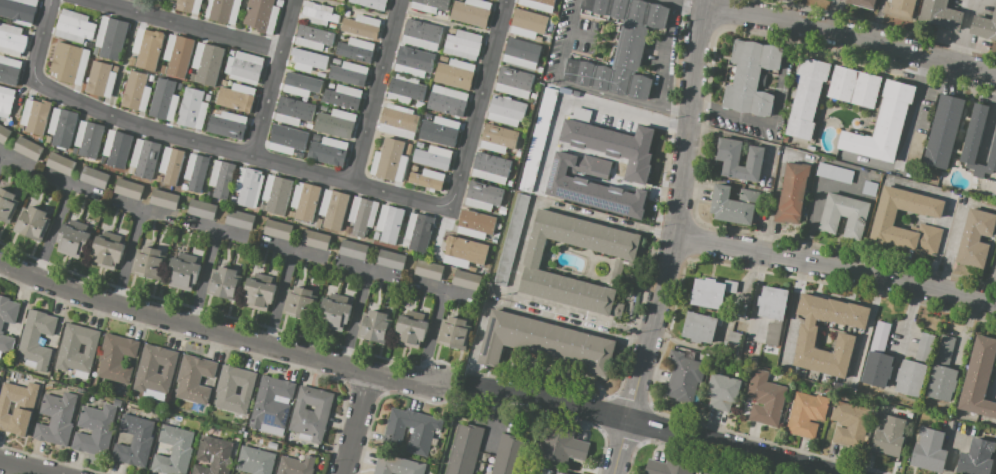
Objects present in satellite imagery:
building: (341, 0)
building: (460, 0)
road: (688, 2)
building: (864, 2)
building: (278, 3)
building: (370, 3)
building: (539, 4)
building: (430, 5)
building: (188, 7)
building: (899, 7)
building: (19, 10)
building: (223, 10)
building: (471, 12)
building: (346, 13)
building: (318, 14)
building: (940, 14)
building: (261, 15)
building: (528, 23)
road: (182, 25)
building: (331, 25)
building: (361, 26)
building: (985, 26)
building: (74, 27)
building: (452, 30)
building: (422, 33)
road: (850, 36)
building: (111, 37)
building: (313, 37)
building: (12, 40)
building: (462, 45)
building: (146, 48)
building: (621, 48)
building: (324, 49)
building: (355, 49)
building: (96, 51)
building: (231, 53)
road: (664, 53)
building: (521, 54)
building: (178, 55)
building: (309, 59)
building: (443, 59)
building: (335, 61)
building: (413, 62)
building: (69, 63)
building: (206, 64)
building: (243, 68)
building: (163, 69)
building: (9, 70)
building: (539, 70)
building: (348, 73)
building: (454, 74)
building: (751, 77)
road: (270, 78)
building: (100, 79)
building: (151, 79)
building: (514, 82)
building: (229, 83)
building: (300, 84)
building: (179, 86)
building: (330, 86)
road: (581, 87)
building: (854, 87)
building: (404, 89)
building: (136, 91)
road: (374, 91)
building: (315, 96)
building: (207, 97)
building: (236, 97)
building: (342, 97)
building: (533, 97)
building: (807, 97)
building: (164, 100)
building: (6, 101)
building: (447, 101)
road: (583, 102)
building: (419, 104)
building: (531, 107)
building: (322, 108)
building: (192, 109)
road: (913, 109)
building: (506, 110)
building: (293, 111)
road: (777, 115)
building: (33, 116)
building: (398, 121)
building: (301, 124)
building: (335, 124)
building: (883, 124)
building: (227, 125)
building: (308, 126)
building: (62, 127)
building: (440, 131)
building: (944, 132)
building: (974, 133)
building: (4, 135)
building: (316, 137)
building: (89, 138)
building: (497, 138)
building: (47, 139)
building: (285, 140)
building: (538, 140)
building: (418, 145)
building: (28, 148)
building: (116, 149)
building: (74, 150)
building: (915, 150)
building: (328, 151)
building: (407, 152)
building: (518, 154)
road: (1, 155)
building: (302, 155)
building: (435, 156)
building: (992, 156)
building: (144, 158)
building: (389, 161)
building: (729, 161)
building: (61, 163)
building: (170, 165)
building: (414, 168)
building: (491, 168)
building: (130, 170)
road: (302, 170)
building: (637, 170)
building: (196, 172)
building: (835, 173)
building: (94, 177)
building: (158, 179)
building: (221, 179)
building: (427, 179)
building: (509, 183)
building: (184, 187)
building: (247, 187)
building: (870, 188)
building: (129, 189)
building: (792, 193)
building: (276, 194)
building: (483, 196)
building: (165, 199)
building: (304, 201)
road: (771, 203)
building: (7, 205)
building: (732, 206)
building: (202, 209)
building: (333, 209)
building: (502, 210)
building: (290, 214)
building: (72, 215)
building: (361, 215)
building: (844, 215)
building: (240, 219)
building: (885, 221)
building: (33, 223)
building: (318, 223)
building: (389, 223)
building: (475, 224)
building: (497, 226)
road: (53, 229)
building: (277, 230)
building: (348, 230)
road: (654, 231)
road: (232, 232)
building: (418, 232)
building: (375, 235)
building: (975, 238)
building: (315, 240)
building: (511, 240)
road: (675, 240)
building: (72, 241)
road: (520, 249)
building: (353, 250)
building: (106, 253)
building: (469, 254)
road: (127, 256)
building: (391, 259)
building: (148, 263)
building: (531, 264)
road: (836, 268)
building: (427, 269)
building: (995, 269)
building: (183, 274)
building: (446, 275)
road: (203, 276)
building: (466, 280)
building: (224, 283)
building: (708, 293)
building: (258, 294)
road: (280, 297)
building: (300, 303)
building: (773, 303)
road: (536, 312)
building: (334, 314)
road: (908, 317)
road: (355, 318)
road: (631, 325)
building: (1, 327)
building: (375, 327)
building: (699, 328)
road: (217, 331)
building: (411, 331)
building: (772, 332)
building: (454, 333)
road: (430, 336)
building: (880, 337)
building: (806, 338)
building: (733, 339)
building: (36, 340)
building: (545, 343)
building: (924, 348)
building: (77, 350)
building: (945, 350)
building: (116, 358)
building: (878, 368)
building: (155, 372)
building: (683, 376)
building: (910, 378)
building: (979, 378)
building: (195, 379)
building: (942, 383)
road: (458, 385)
building: (235, 389)
building: (723, 391)
building: (766, 399)
road: (470, 401)
building: (117, 402)
building: (272, 405)
building: (17, 407)
building: (311, 414)
building: (806, 414)
building: (57, 418)
building: (847, 424)
road: (356, 425)
road: (650, 427)
building: (95, 429)
building: (892, 434)
building: (421, 436)
building: (134, 441)
building: (273, 445)
building: (564, 445)
building: (464, 449)
building: (174, 450)
building: (929, 450)
building: (510, 455)
building: (214, 456)
building: (976, 457)
building: (255, 461)
building: (296, 465)
building: (397, 465)
building: (671, 465)
road: (24, 467)
building: (545, 471)
building: (702, 473)
building: (704, 473)

